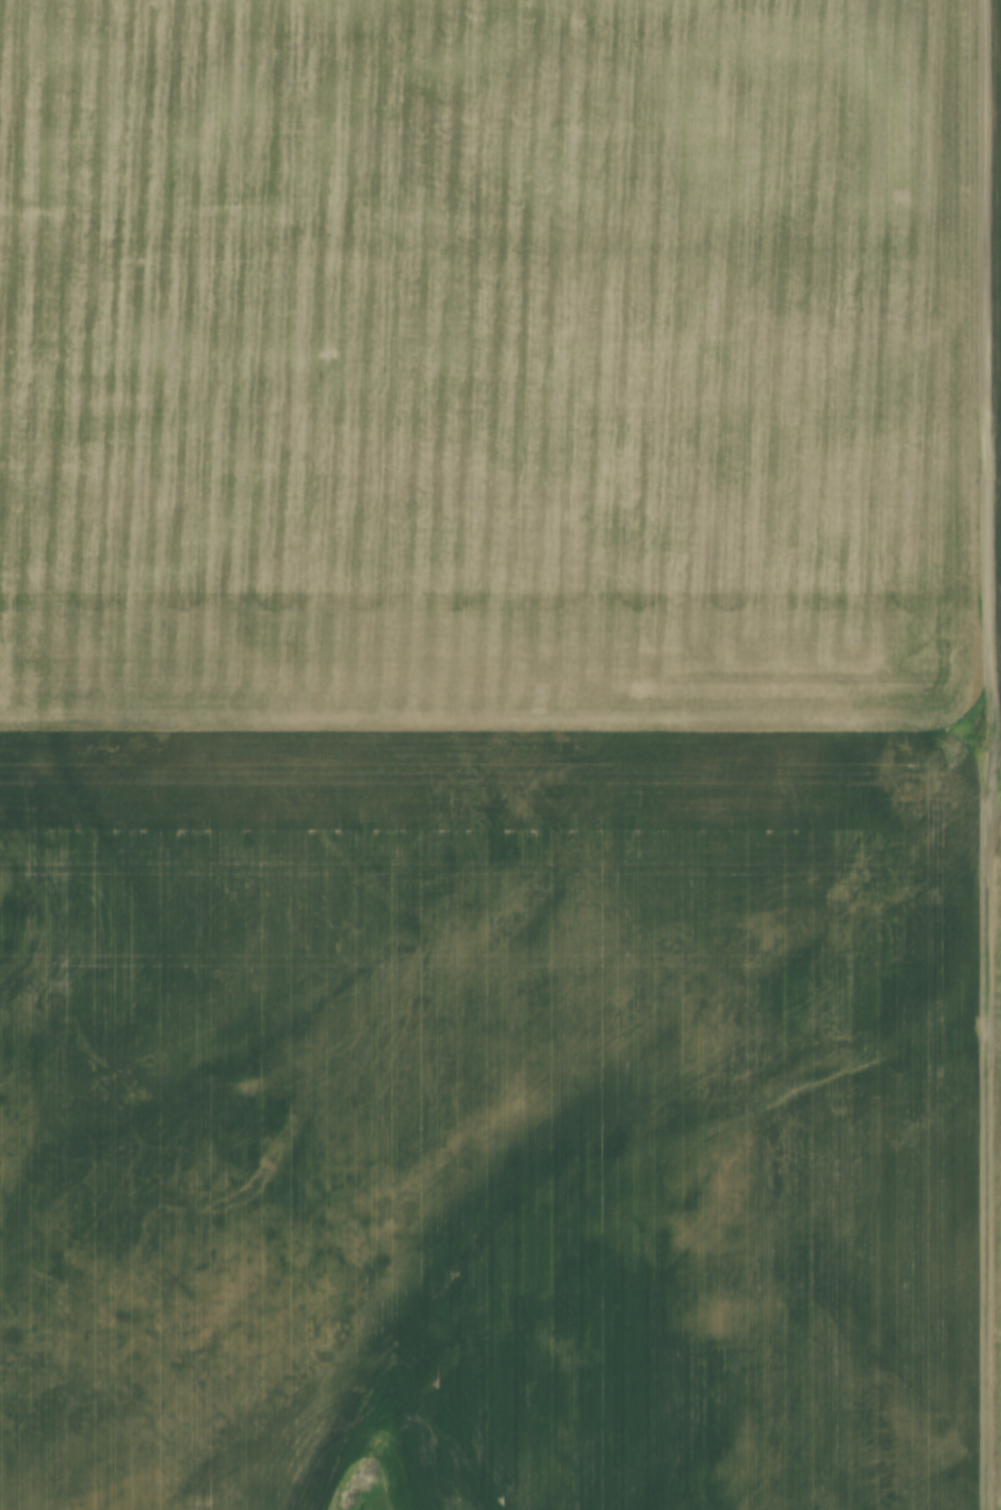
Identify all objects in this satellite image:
road: (992, 755)

